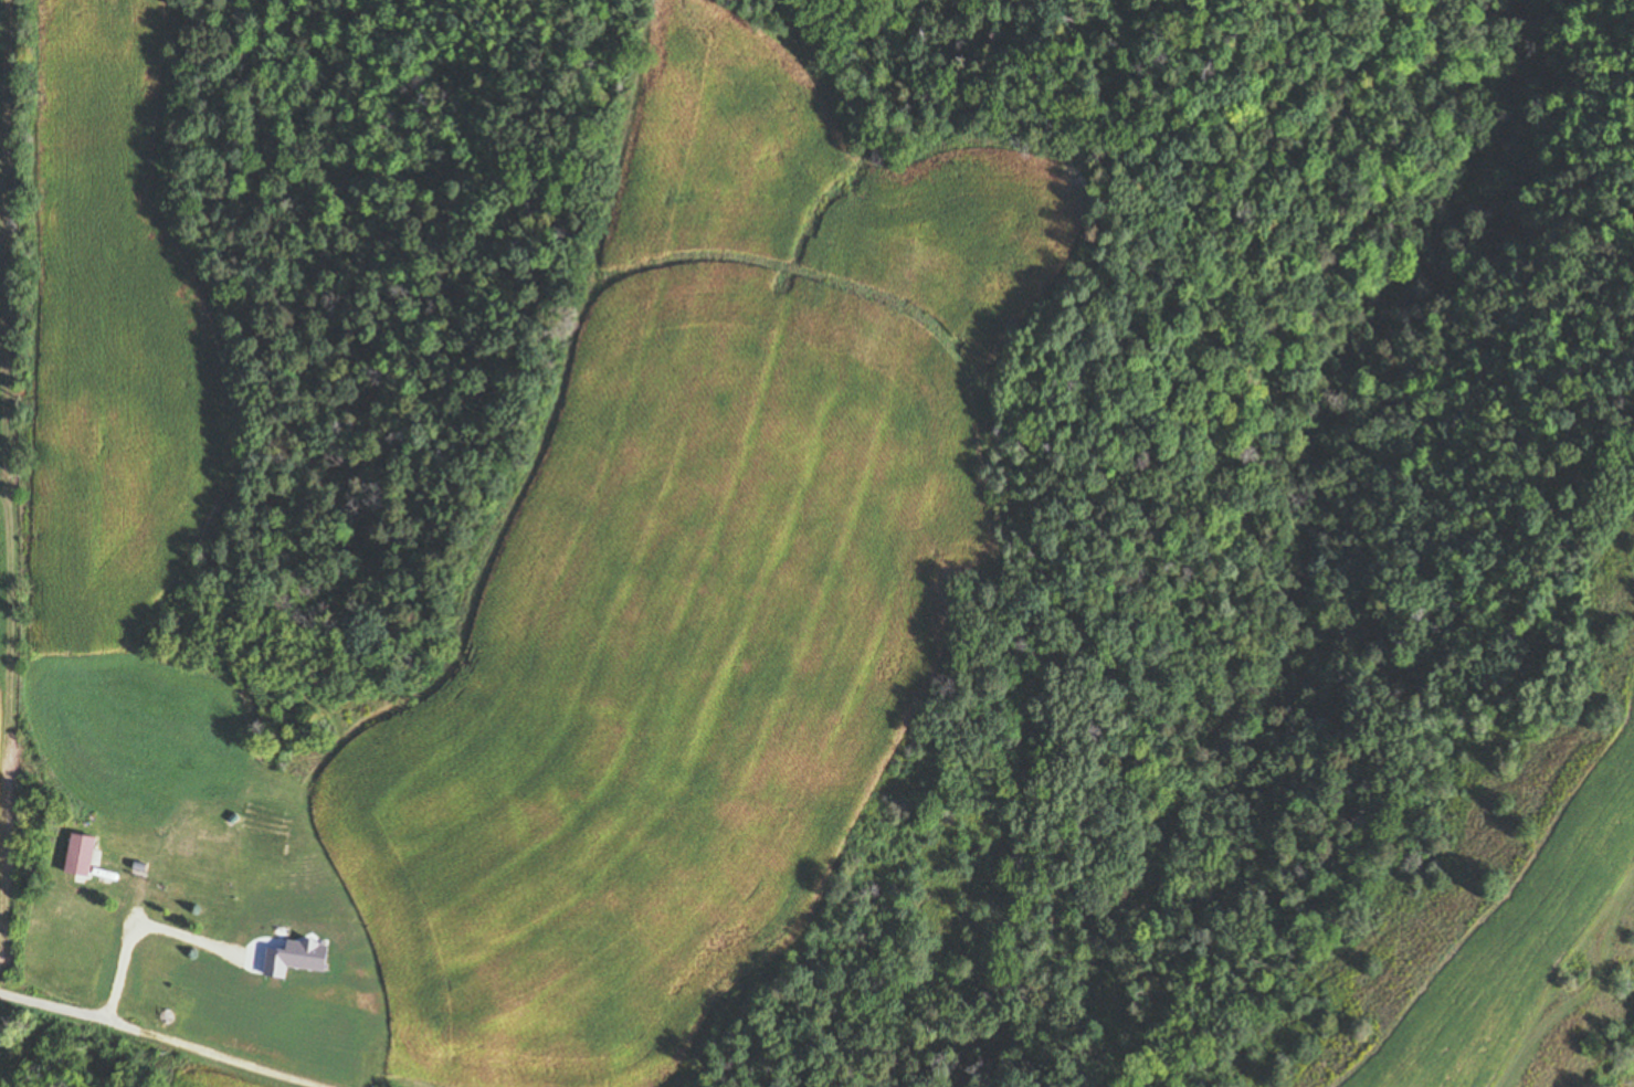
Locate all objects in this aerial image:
road: (810, 718)
building: (85, 857)
building: (277, 899)

